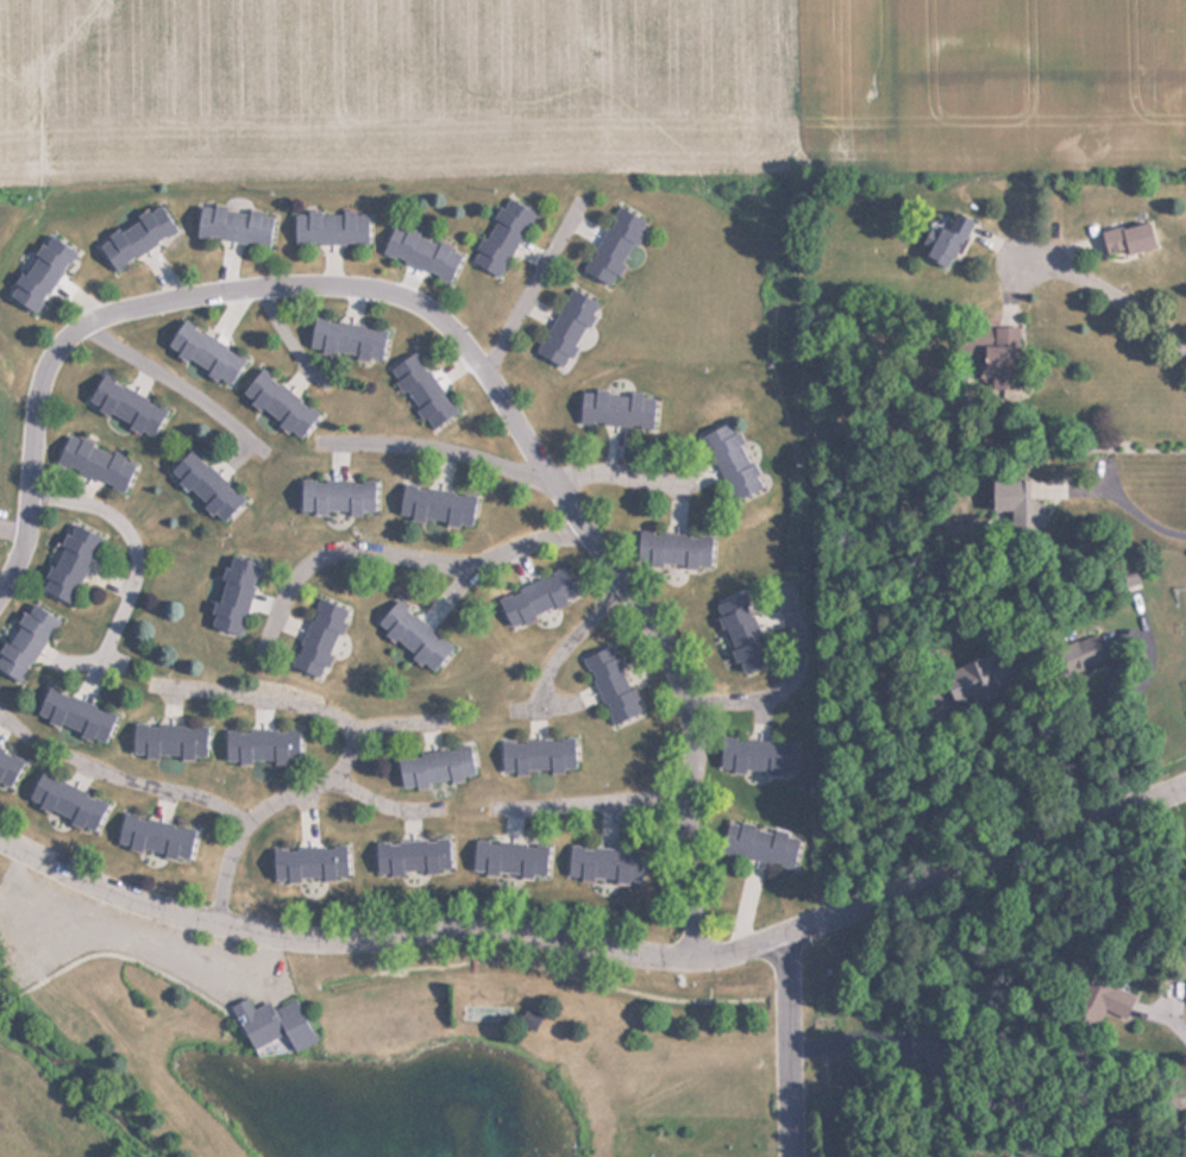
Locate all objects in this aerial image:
building: (232, 224)
building: (330, 227)
building: (133, 235)
building: (501, 237)
building: (1124, 239)
building: (943, 240)
building: (611, 245)
building: (420, 251)
building: (39, 272)
road: (534, 285)
road: (1099, 287)
road: (84, 322)
building: (565, 327)
road: (288, 338)
building: (345, 338)
building: (203, 352)
building: (998, 359)
road: (176, 385)
building: (421, 389)
building: (277, 403)
building: (124, 405)
building: (616, 408)
road: (433, 447)
building: (730, 459)
building: (94, 461)
road: (1104, 467)
road: (617, 474)
building: (203, 485)
building: (335, 496)
building: (1009, 496)
building: (434, 505)
road: (14, 532)
building: (672, 549)
road: (397, 555)
road: (137, 561)
building: (69, 564)
road: (622, 579)
building: (232, 595)
building: (534, 598)
building: (740, 631)
building: (412, 635)
building: (318, 639)
road: (571, 640)
building: (24, 642)
building: (981, 675)
building: (611, 684)
road: (785, 685)
building: (74, 715)
road: (397, 724)
road: (12, 725)
building: (167, 740)
building: (258, 744)
road: (347, 753)
building: (535, 754)
building: (755, 755)
building: (433, 766)
building: (7, 767)
road: (157, 787)
building: (63, 801)
road: (590, 804)
road: (382, 805)
building: (153, 836)
building: (759, 843)
building: (410, 855)
building: (507, 857)
building: (307, 863)
building: (603, 863)
road: (596, 952)
building: (1110, 1000)
road: (1163, 1013)
building: (269, 1025)
road: (791, 1044)

